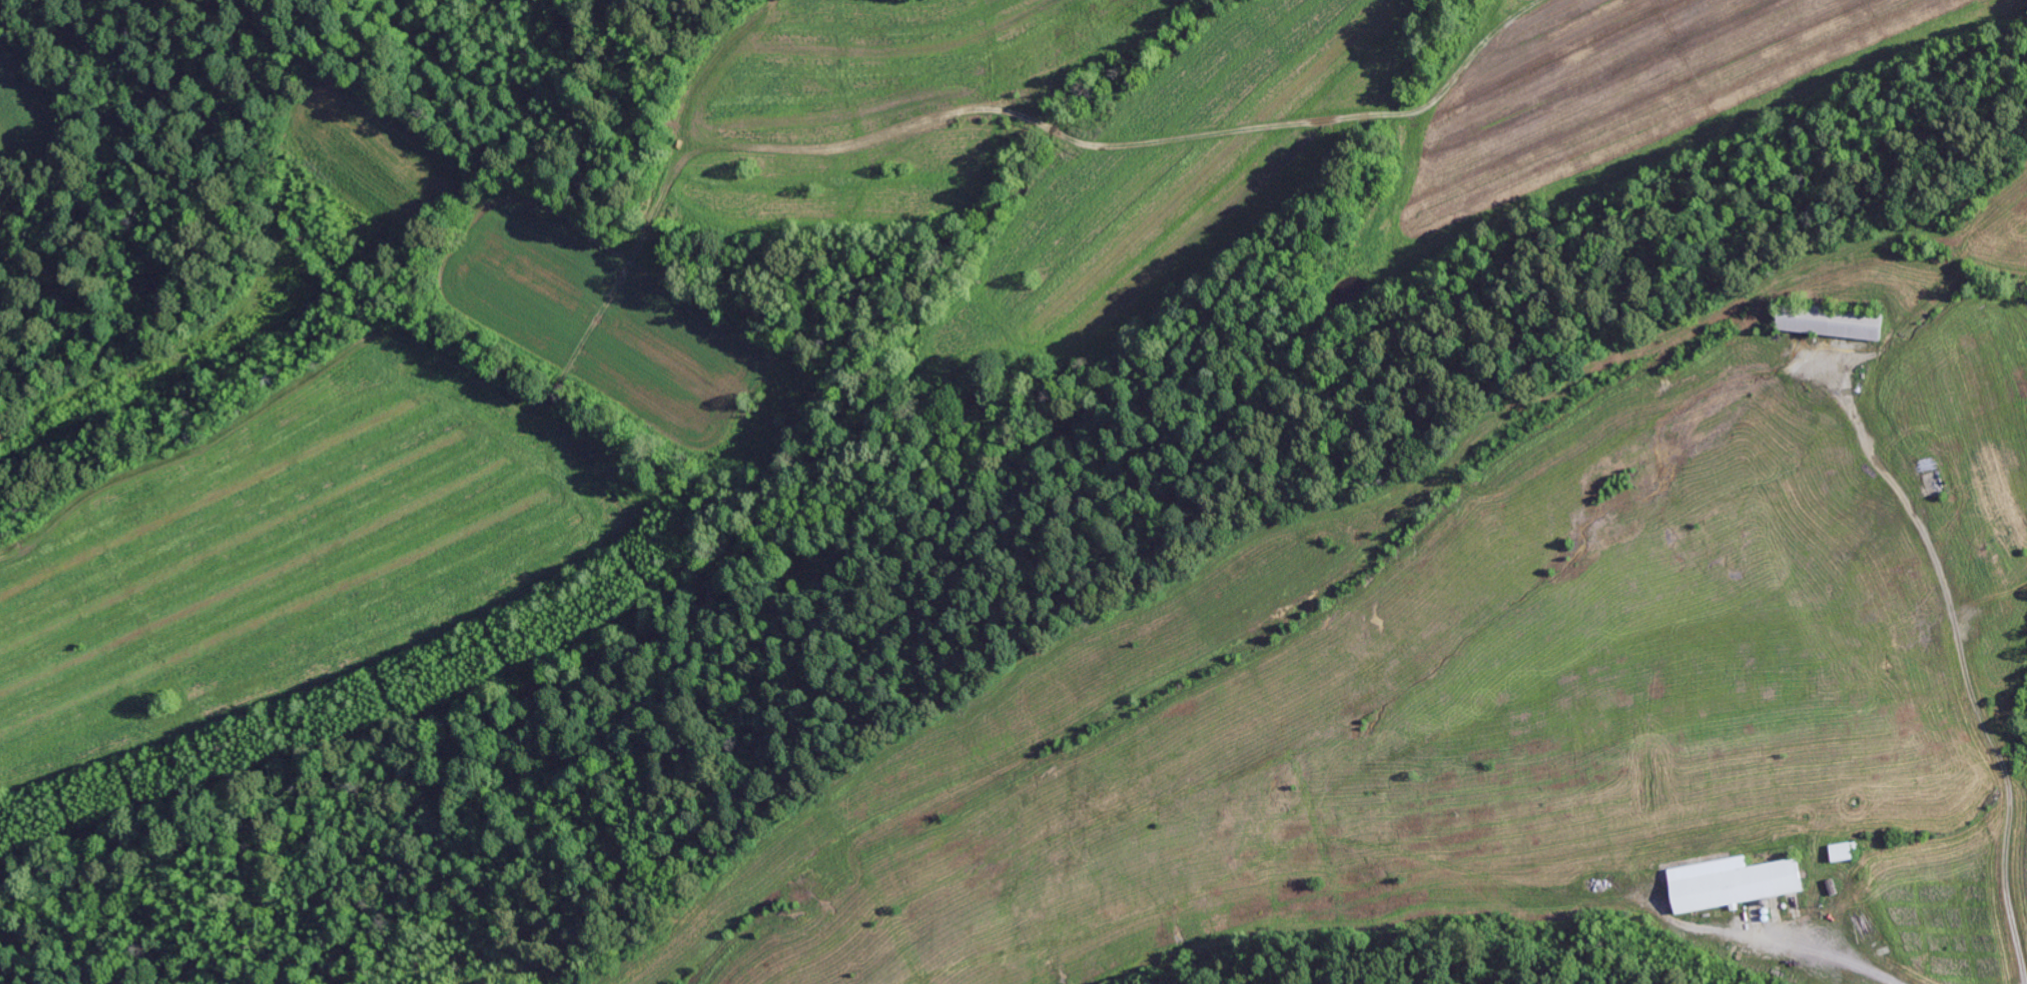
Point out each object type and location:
building: (1831, 323)
building: (1731, 883)

